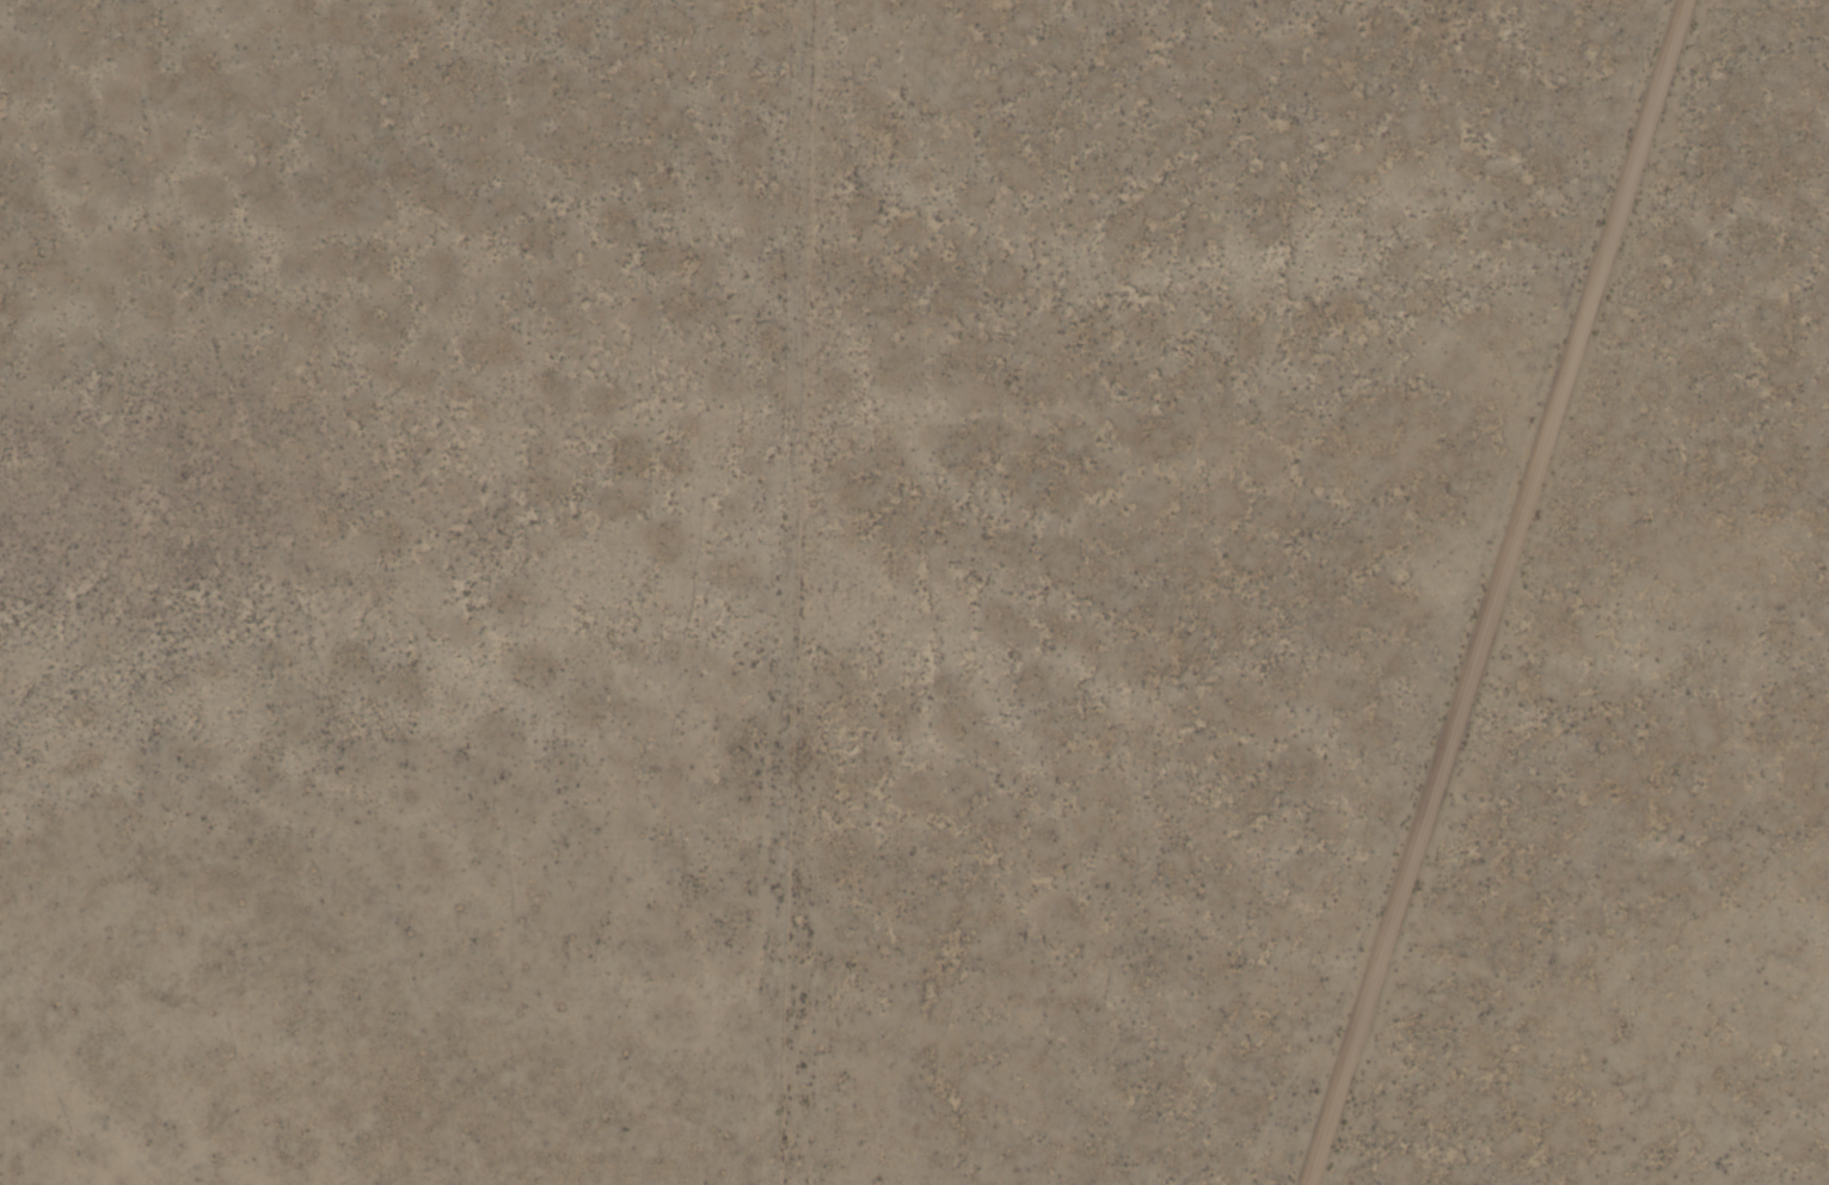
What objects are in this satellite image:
road: (1498, 591)

